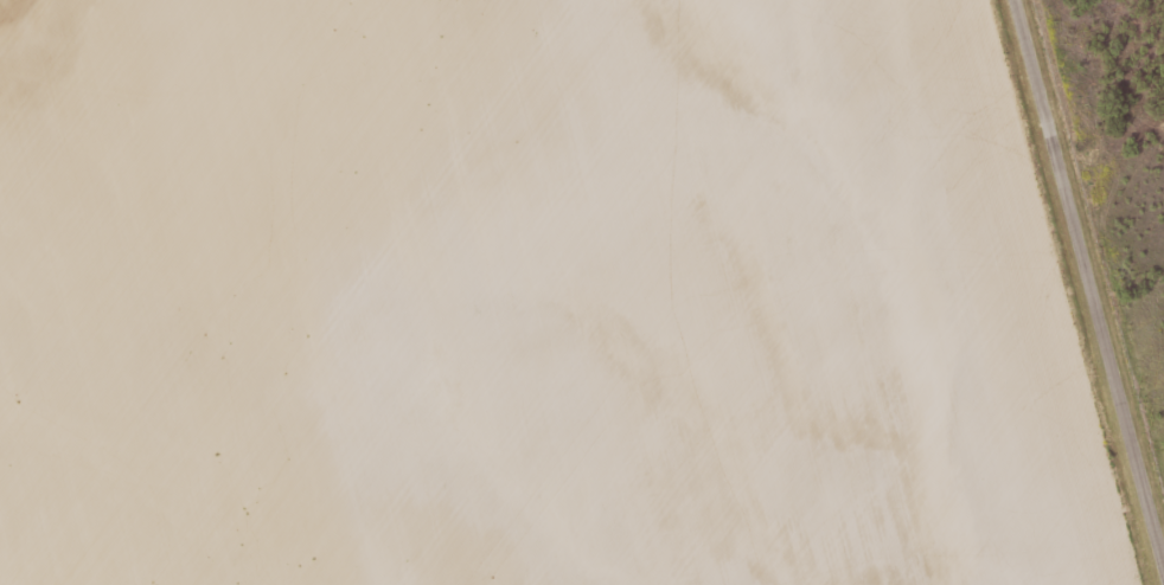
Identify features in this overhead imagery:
road: (1089, 283)

